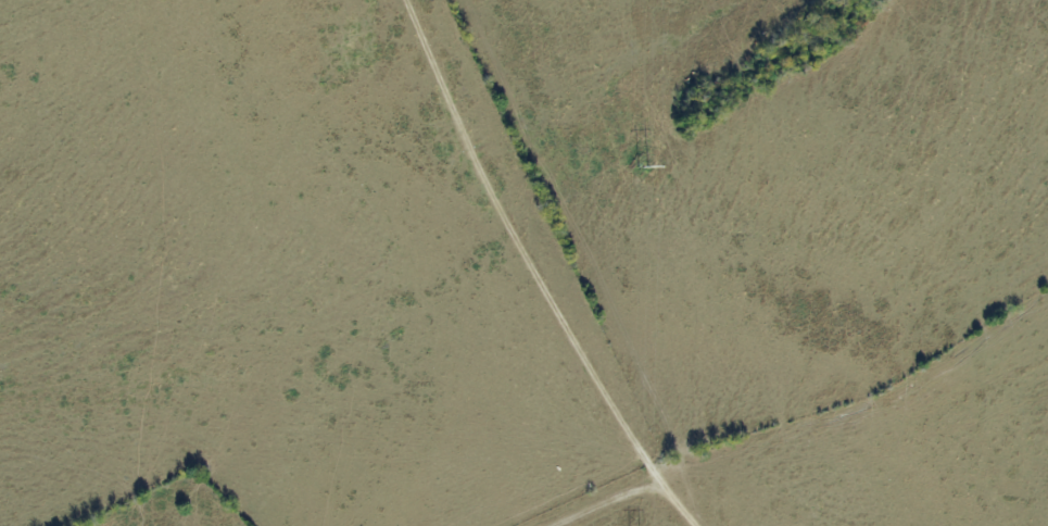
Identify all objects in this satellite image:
power tower: (637, 167)

